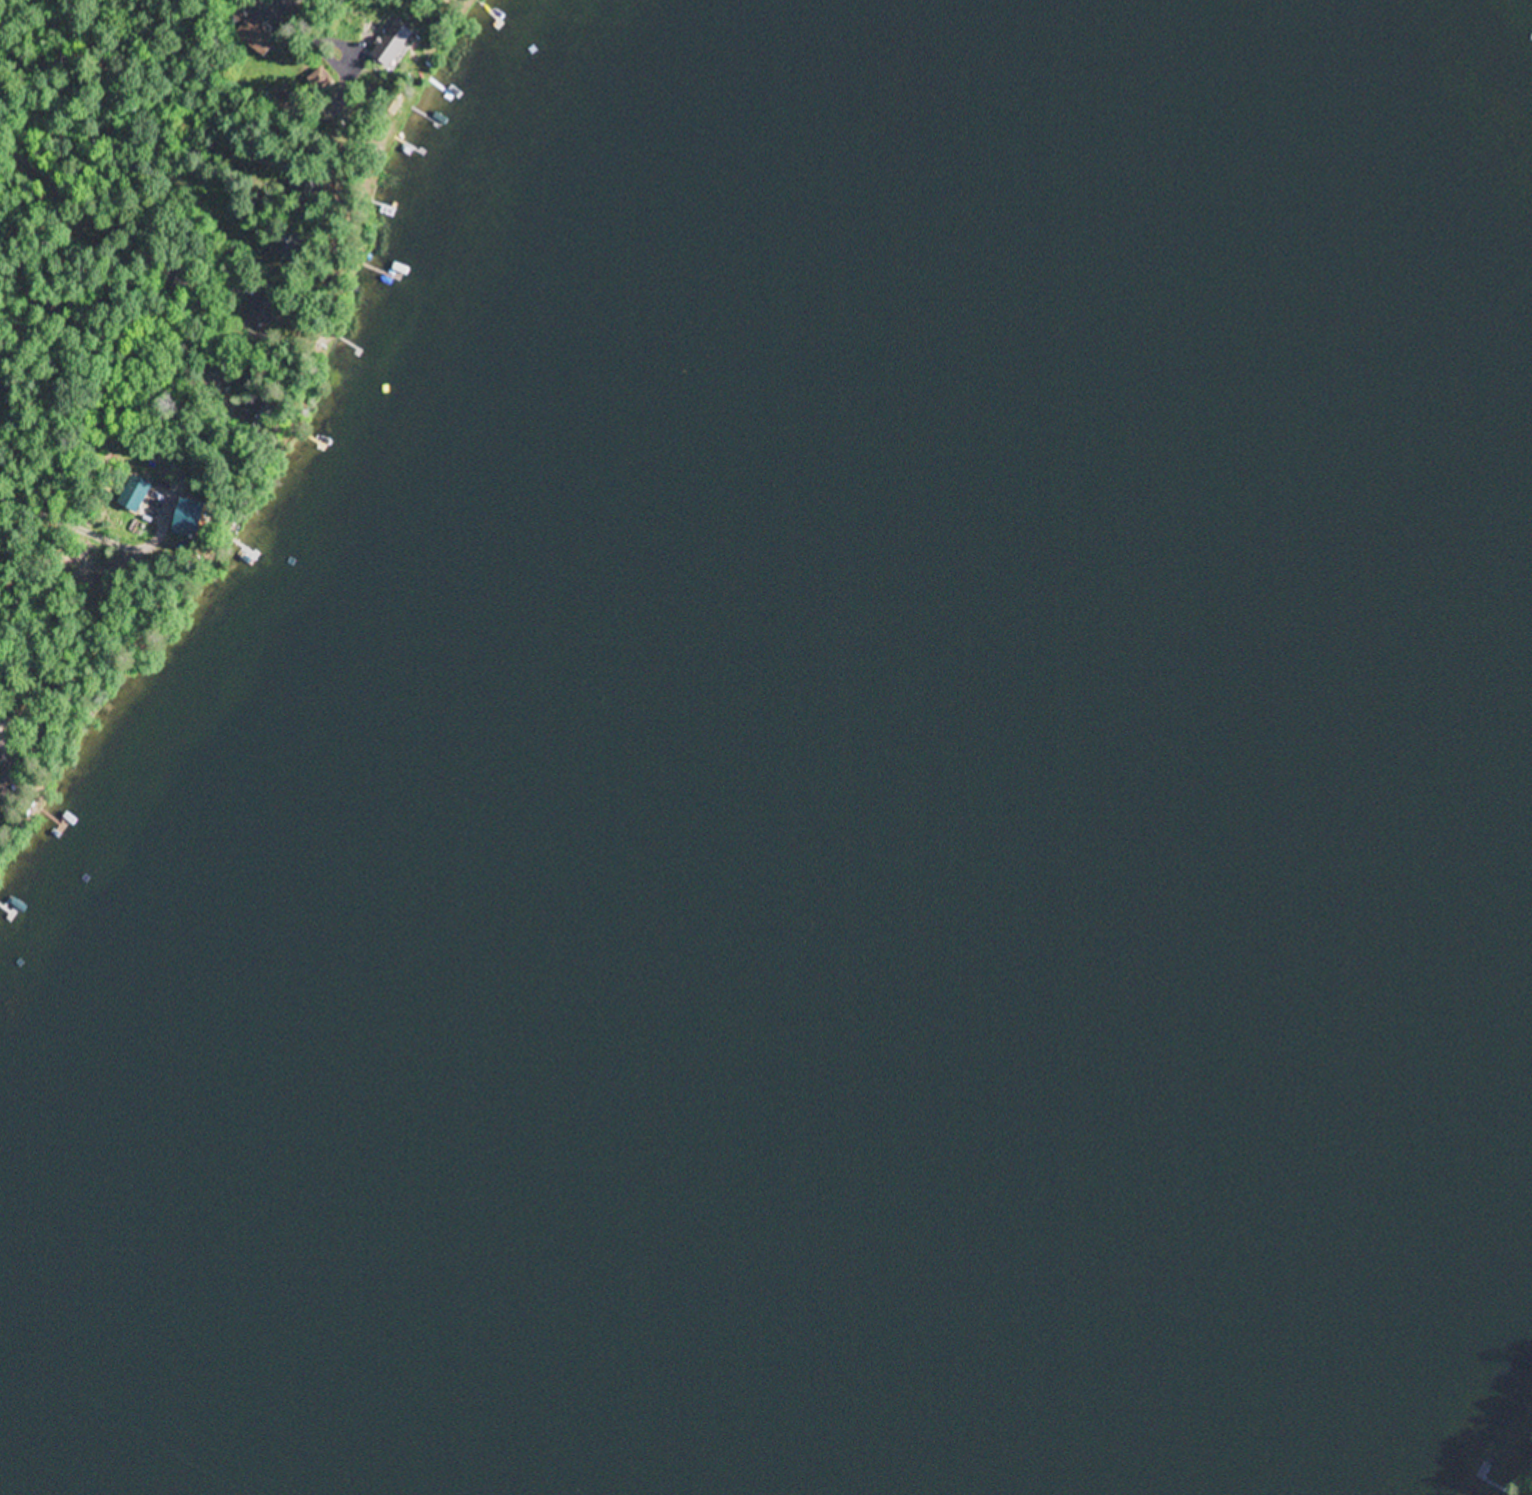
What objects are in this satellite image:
road: (295, 31)
building: (396, 43)
building: (261, 311)
building: (125, 501)

